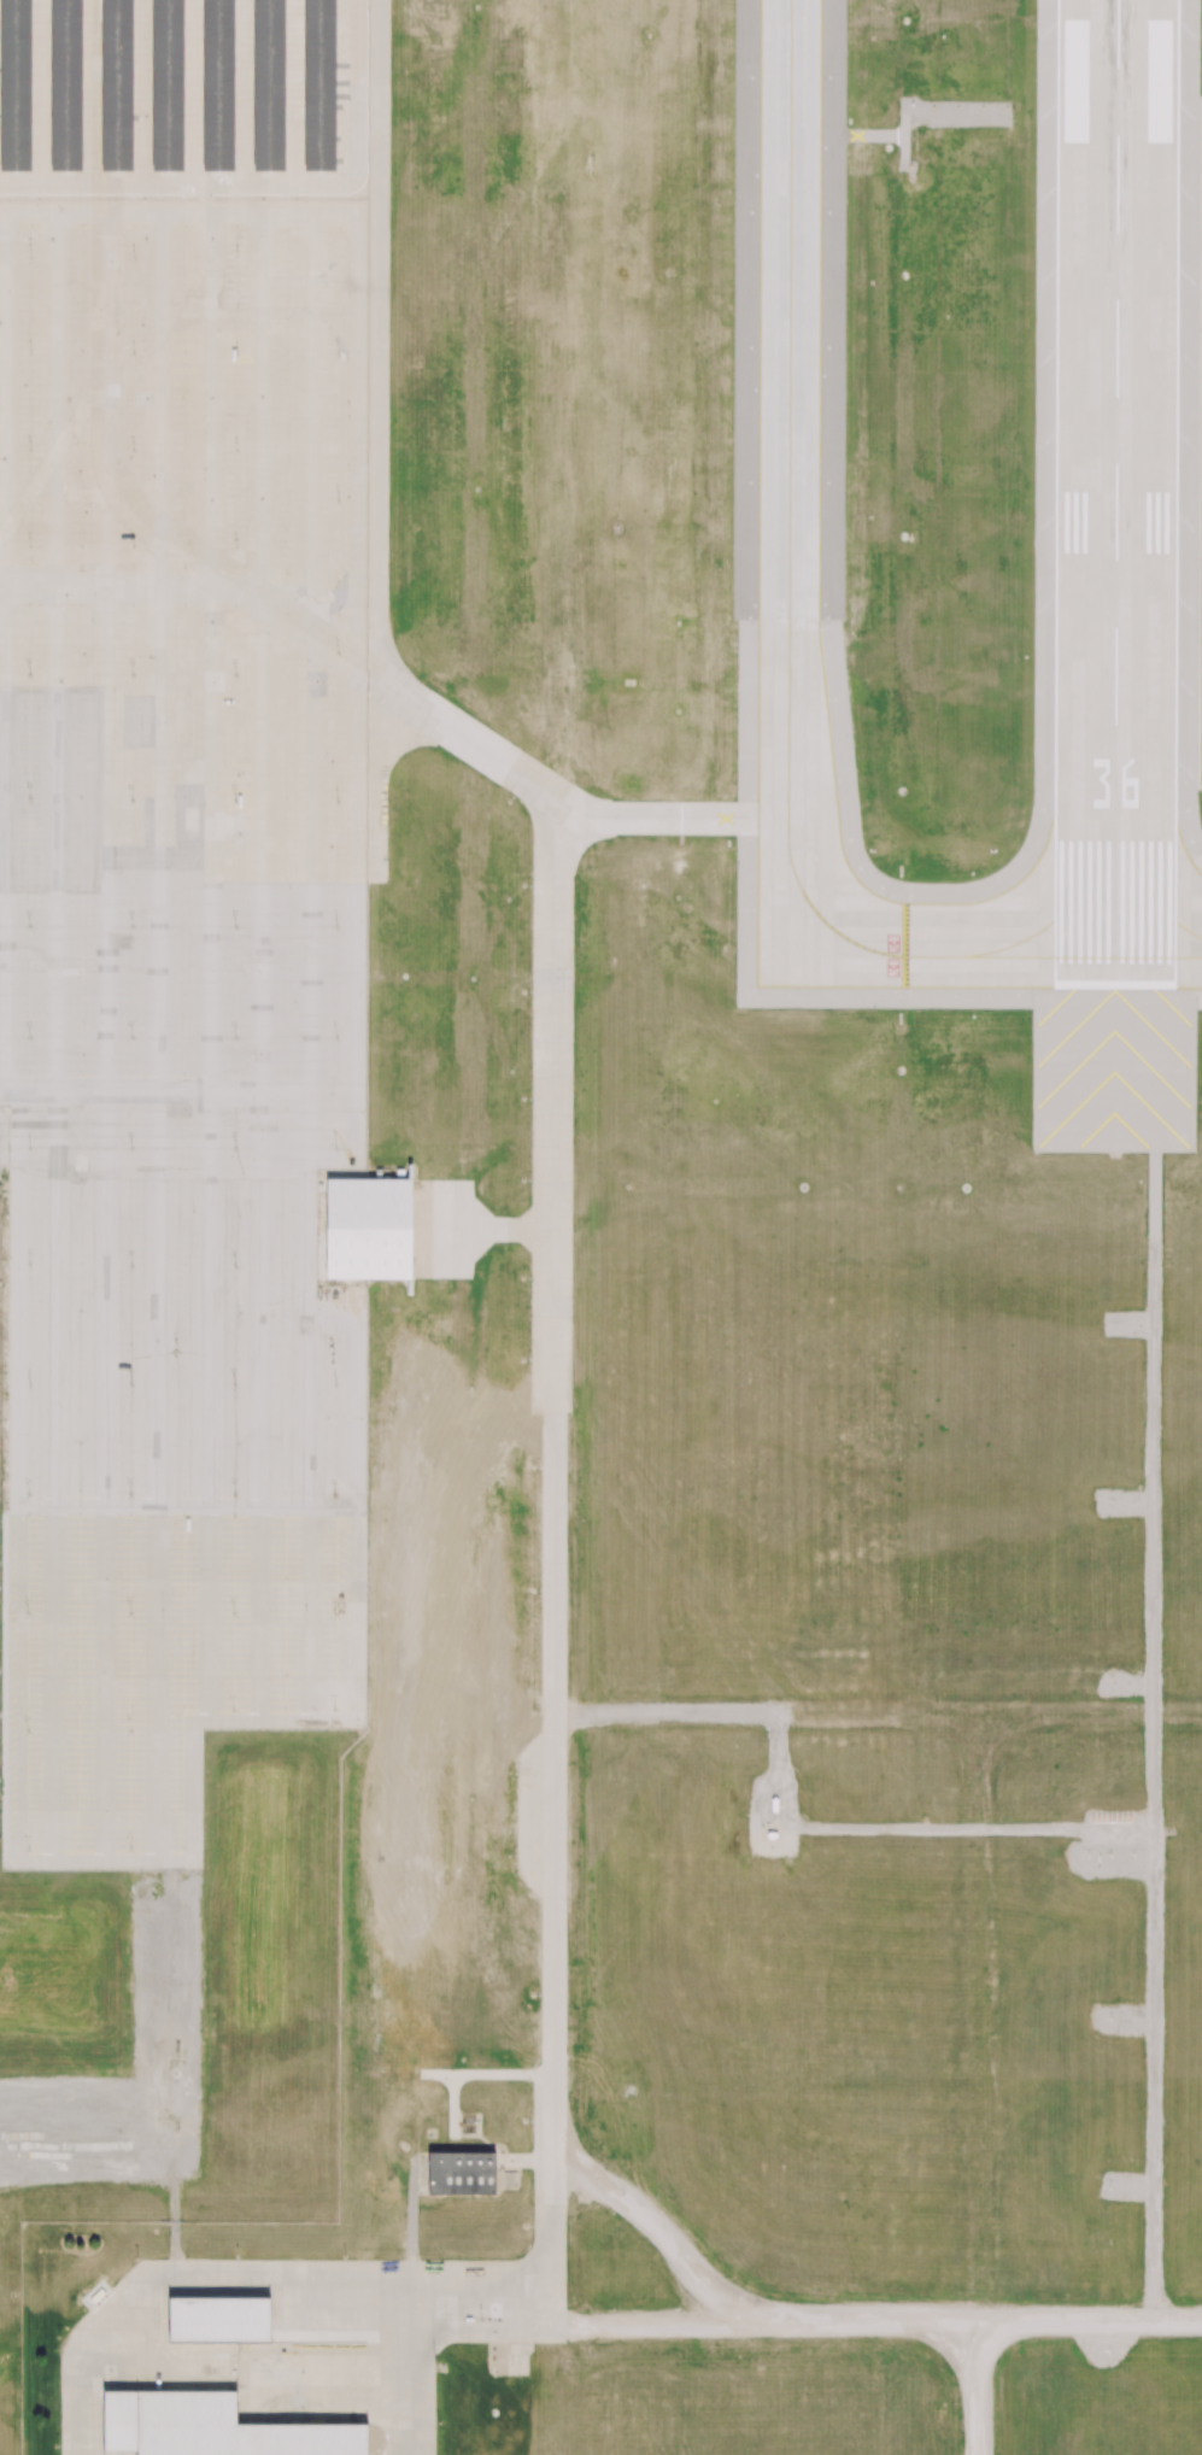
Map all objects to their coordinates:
building: (14, 84)
building: (65, 84)
building: (116, 84)
building: (268, 84)
road: (192, 90)
road: (40, 92)
road: (90, 92)
road: (142, 92)
road: (244, 92)
road: (294, 92)
road: (347, 112)
road: (360, 123)
road: (147, 182)
road: (310, 250)
street lamp: (33, 257)
street lamp: (134, 258)
street lamp: (236, 258)
street lamp: (33, 352)
street lamp: (134, 353)
street lamp: (238, 355)
road: (356, 385)
road: (377, 436)
street lamp: (31, 449)
street lamp: (134, 450)
street lamp: (238, 451)
airport runway: (1119, 493)
street lamp: (31, 545)
street lamp: (133, 546)
street lamp: (236, 547)
road: (176, 590)
airport taxiway: (787, 639)
road: (6, 652)
street lamp: (336, 654)
street lamp: (31, 673)
street lamp: (131, 675)
street lamp: (235, 675)
road: (54, 685)
road: (106, 685)
road: (156, 686)
road: (211, 686)
road: (260, 686)
airport taxiway: (473, 743)
parking lot: (182, 749)
street lamp: (31, 797)
street lamp: (133, 799)
street lamp: (234, 799)
street lamp: (338, 799)
airport taxiway: (676, 818)
road: (307, 877)
road: (352, 902)
airport taxiway: (1148, 902)
street lamp: (30, 925)
street lamp: (133, 925)
street lamp: (235, 925)
street lamp: (336, 926)
airport taxiway: (1081, 956)
street lamp: (29, 1036)
street lamp: (235, 1036)
street lamp: (133, 1037)
street lamp: (336, 1037)
airport taxiway: (551, 1105)
road: (17, 1115)
street lamp: (30, 1147)
street lamp: (235, 1147)
street lamp: (335, 1147)
road: (4, 1156)
road: (223, 1158)
airport: (600, 1227)
building: (369, 1231)
street lamp: (31, 1264)
street lamp: (234, 1266)
road: (17, 1331)
road: (53, 1331)
road: (107, 1332)
road: (154, 1332)
road: (211, 1332)
road: (259, 1334)
street lamp: (235, 1383)
street lamp: (31, 1384)
street lamp: (336, 1384)
road: (304, 1401)
road: (357, 1401)
street lamp: (30, 1494)
street lamp: (131, 1494)
street lamp: (236, 1494)
street lamp: (334, 1495)
road: (159, 1507)
road: (1156, 1738)
building: (461, 2173)
building: (509, 2180)
road: (262, 2284)
building: (219, 2319)
road: (829, 2330)
road: (979, 2390)
building: (213, 2427)

